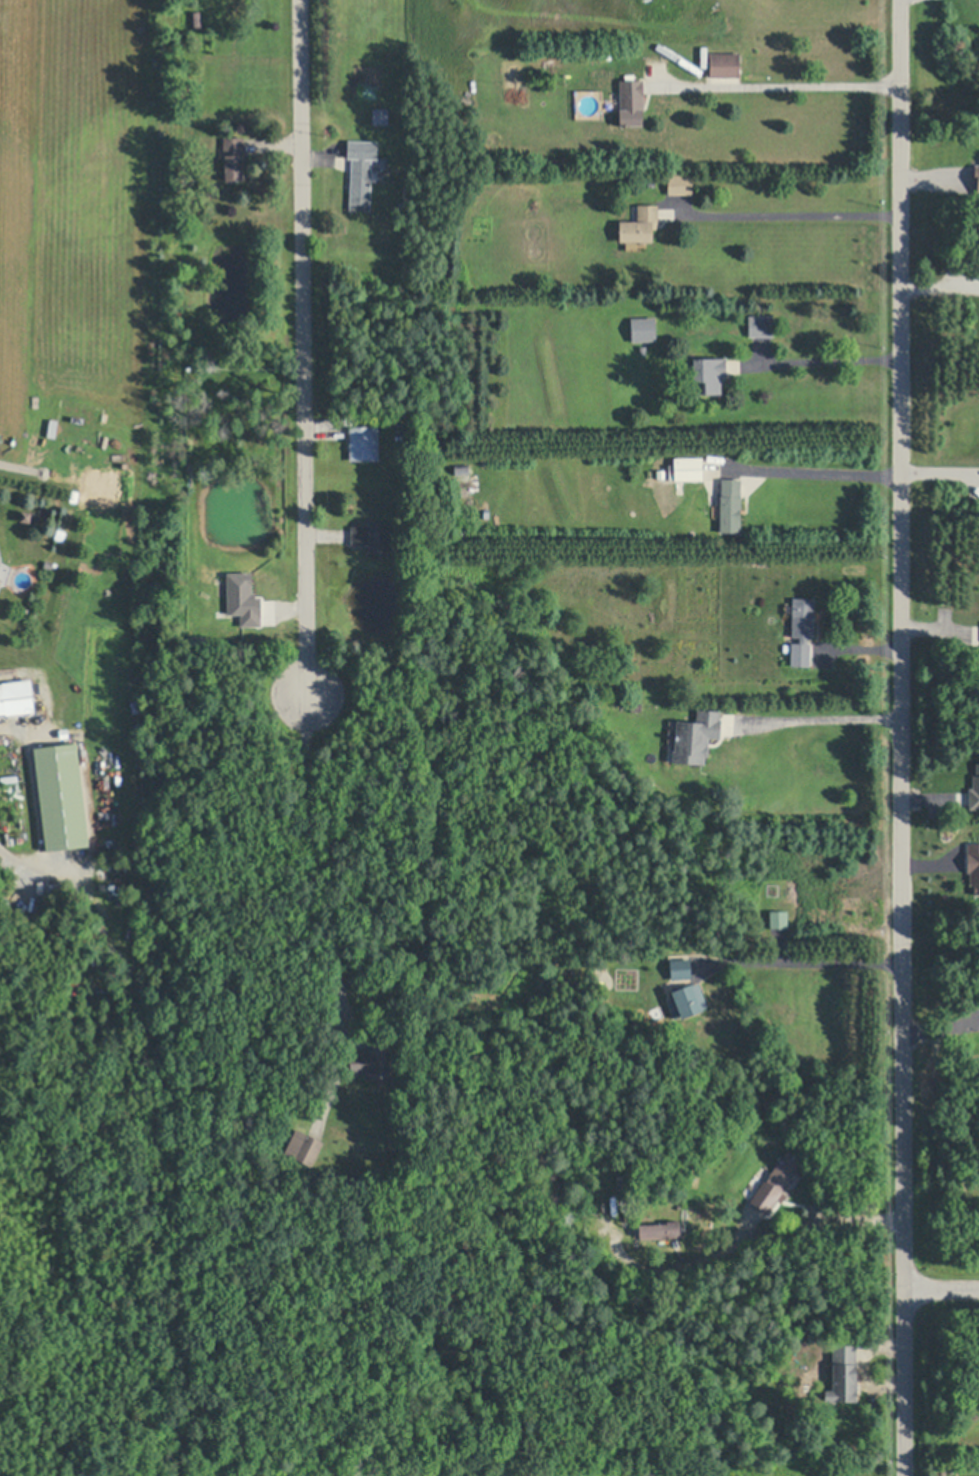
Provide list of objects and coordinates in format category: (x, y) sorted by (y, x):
building: (197, 17)
building: (725, 64)
road: (777, 88)
building: (631, 102)
building: (380, 115)
building: (234, 157)
building: (361, 172)
building: (977, 174)
building: (680, 182)
building: (404, 206)
road: (789, 216)
building: (641, 224)
building: (967, 253)
building: (761, 325)
building: (644, 328)
road: (303, 348)
building: (644, 350)
road: (824, 363)
building: (708, 374)
building: (391, 386)
building: (364, 442)
building: (689, 468)
building: (462, 469)
road: (821, 474)
building: (731, 504)
building: (26, 513)
building: (374, 536)
building: (0, 560)
building: (49, 563)
building: (241, 601)
building: (803, 629)
building: (16, 696)
building: (41, 699)
building: (636, 706)
road: (823, 721)
building: (698, 736)
road: (902, 737)
building: (10, 778)
building: (975, 790)
building: (62, 795)
building: (974, 866)
road: (325, 902)
building: (779, 919)
road: (808, 965)
building: (681, 967)
building: (689, 999)
building: (372, 1059)
building: (304, 1146)
building: (776, 1179)
building: (631, 1213)
building: (661, 1228)
road: (941, 1287)
building: (844, 1373)

